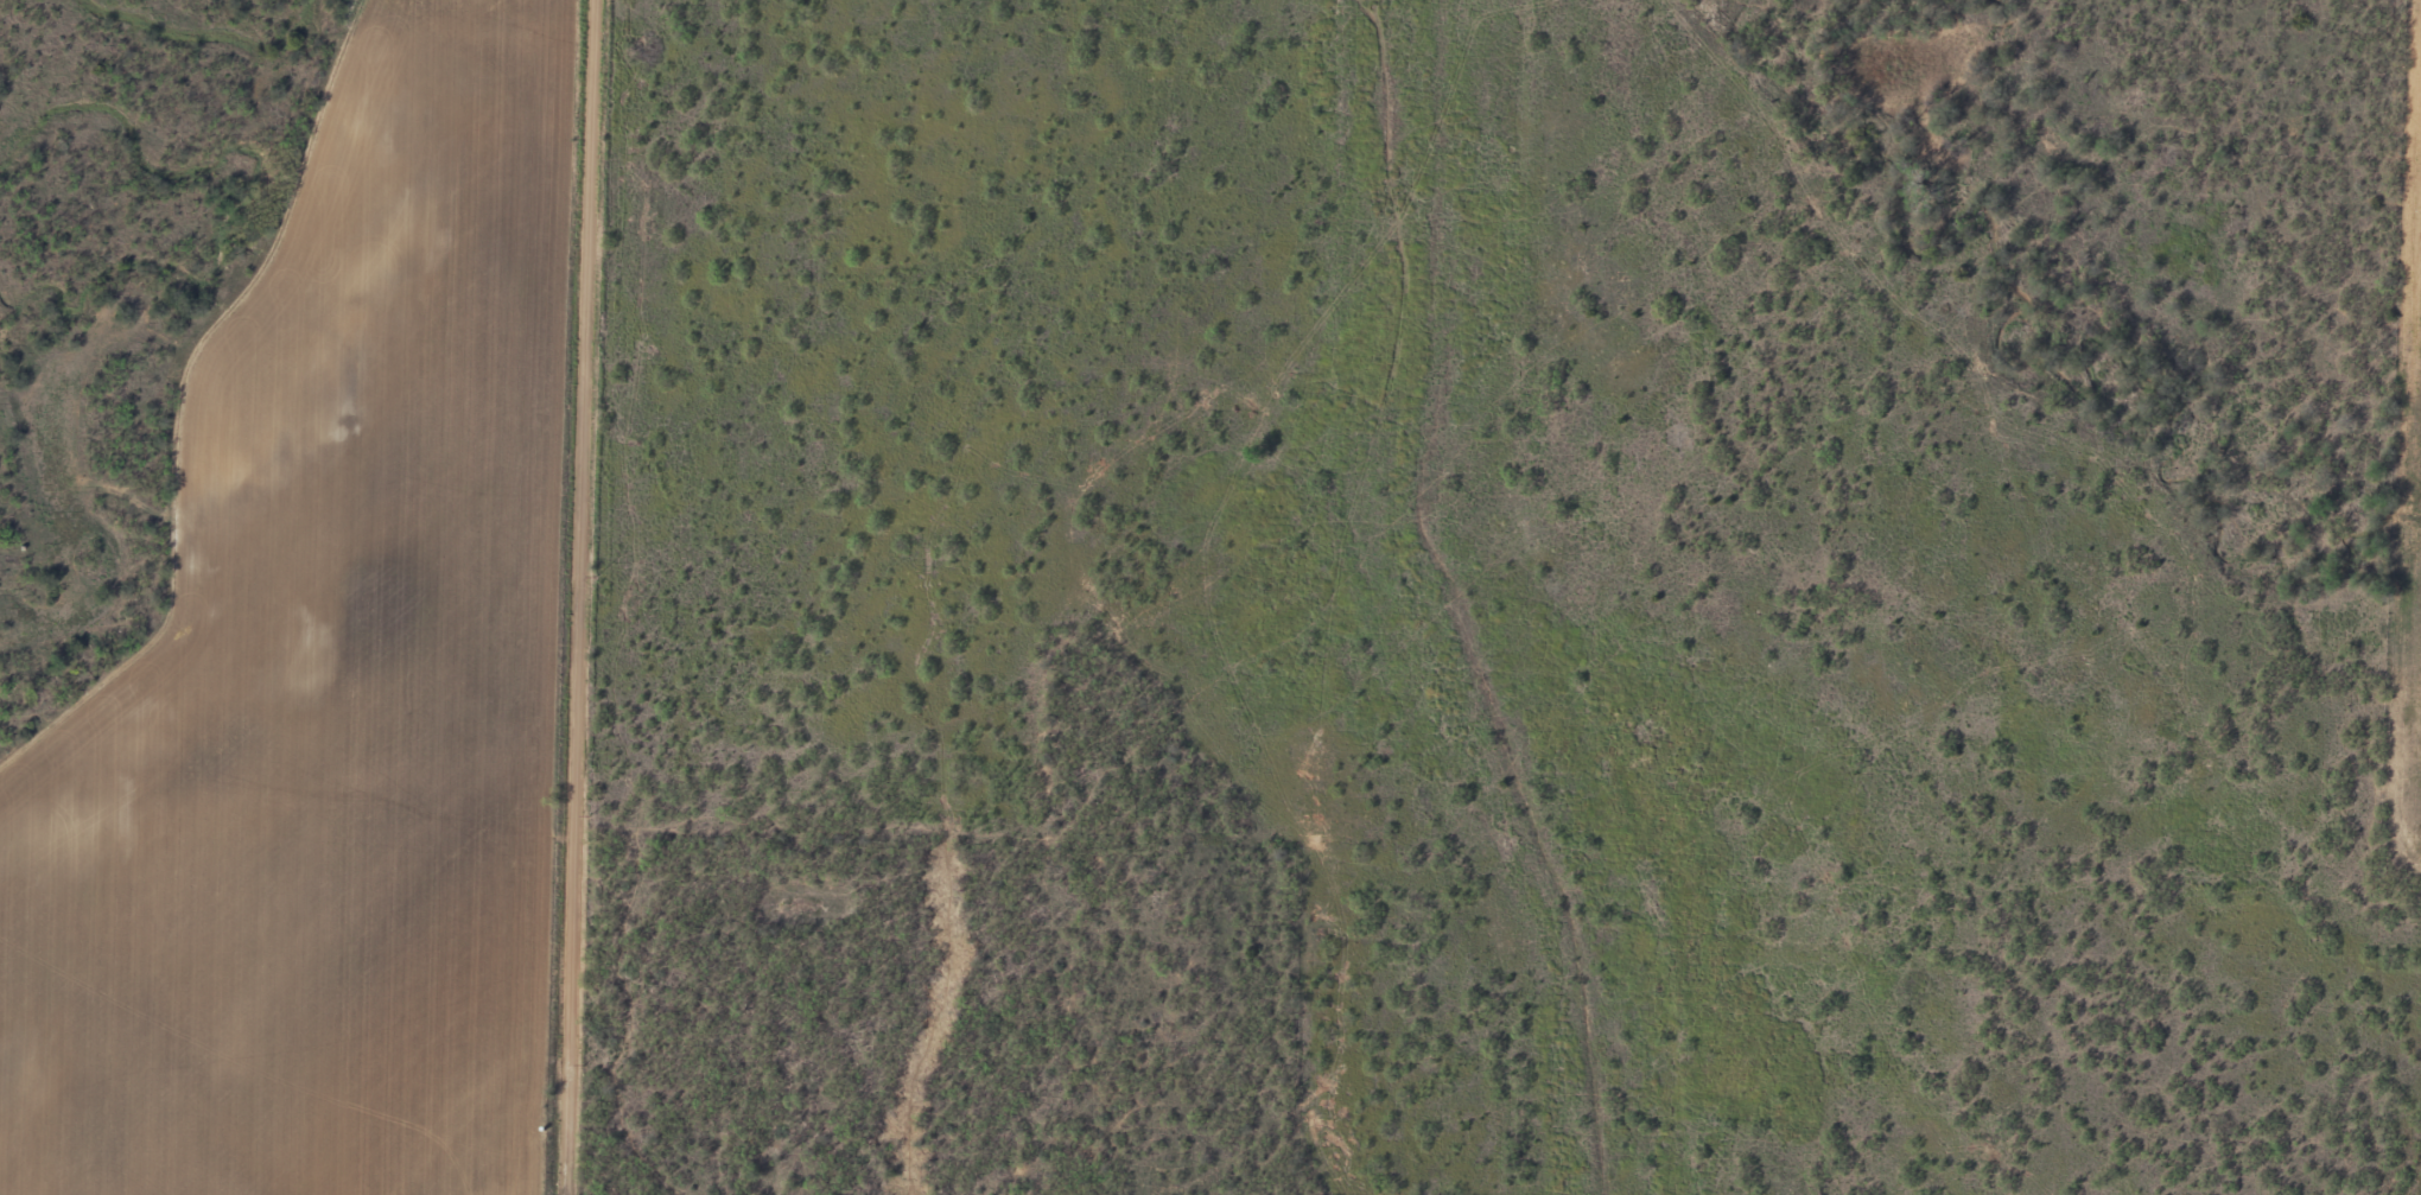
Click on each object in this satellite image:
road: (580, 597)

